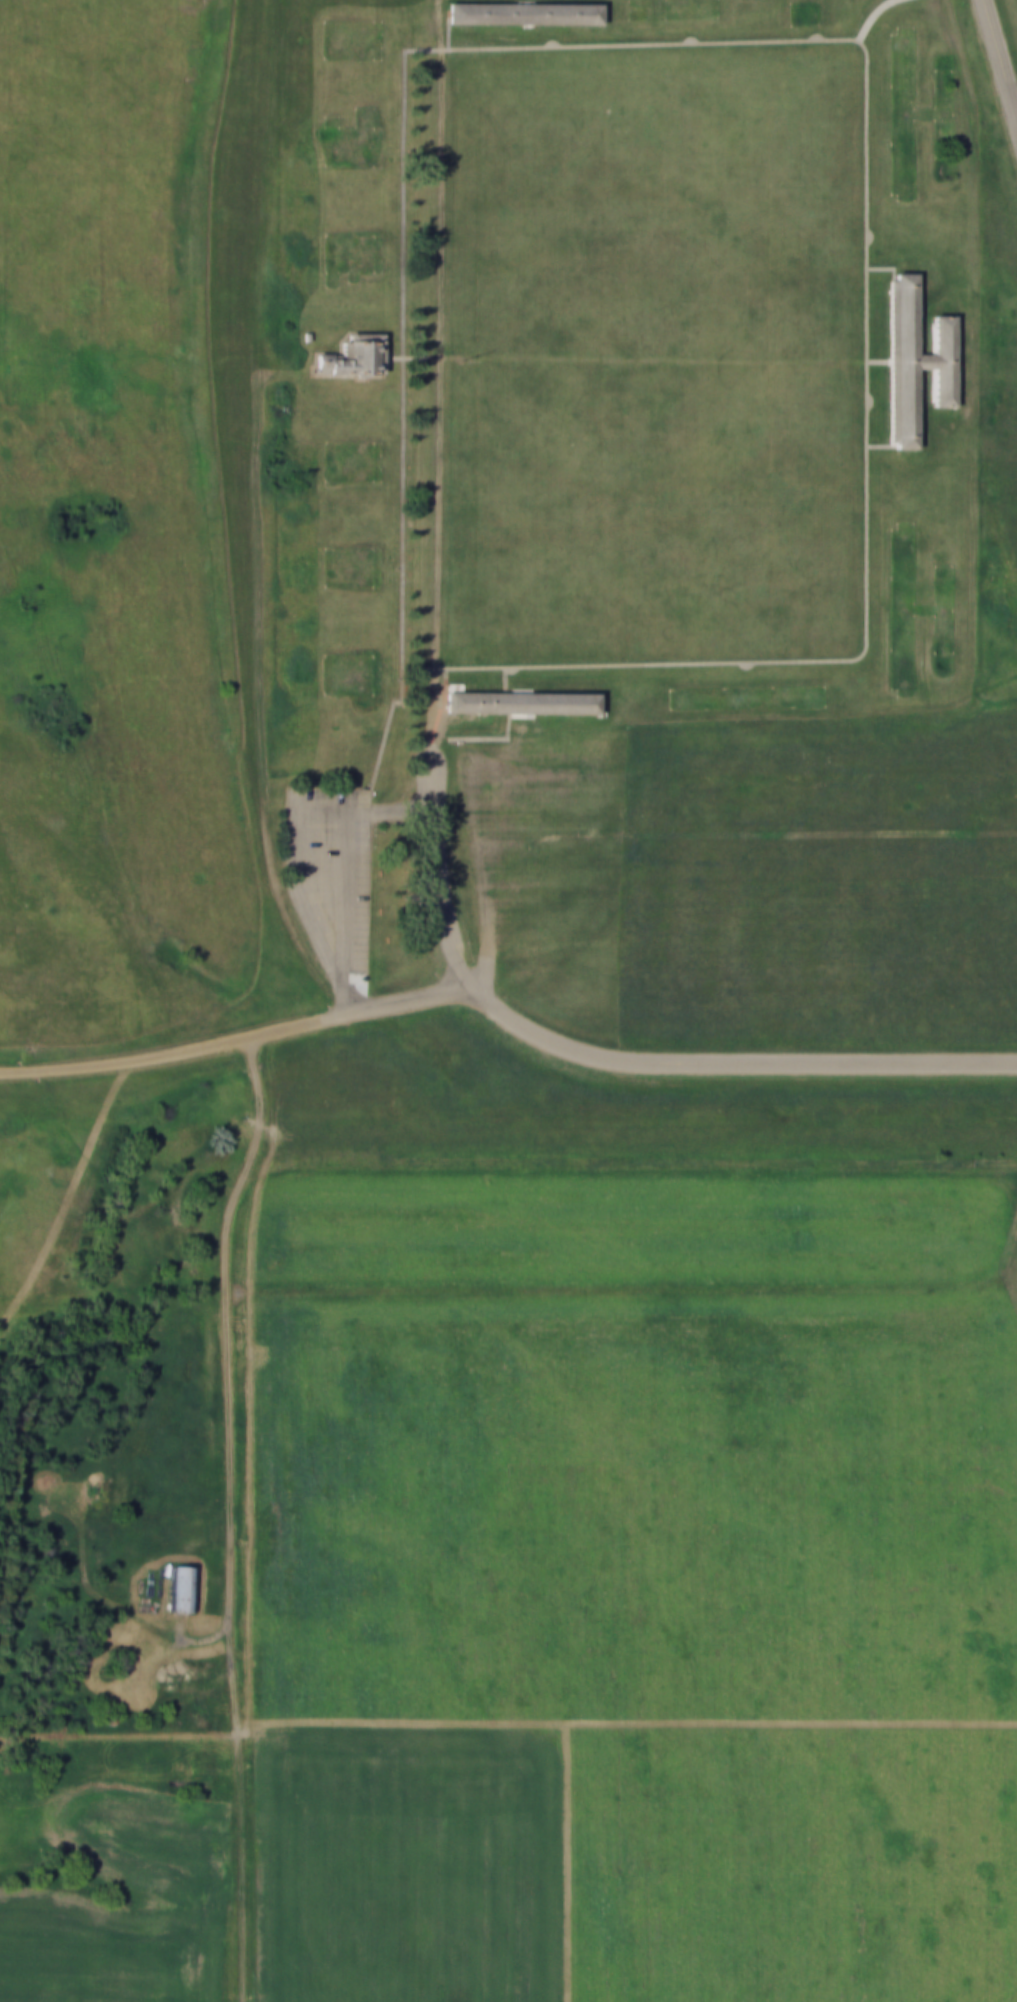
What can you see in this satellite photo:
building: (520, 13)
road: (404, 24)
road: (858, 42)
road: (1000, 57)
building: (350, 354)
road: (633, 358)
building: (913, 361)
park: (508, 553)
building: (516, 701)
road: (434, 866)
parking lot: (329, 885)
road: (504, 1016)
road: (503, 1026)
road: (228, 1201)
building: (182, 1588)
building: (198, 1669)

